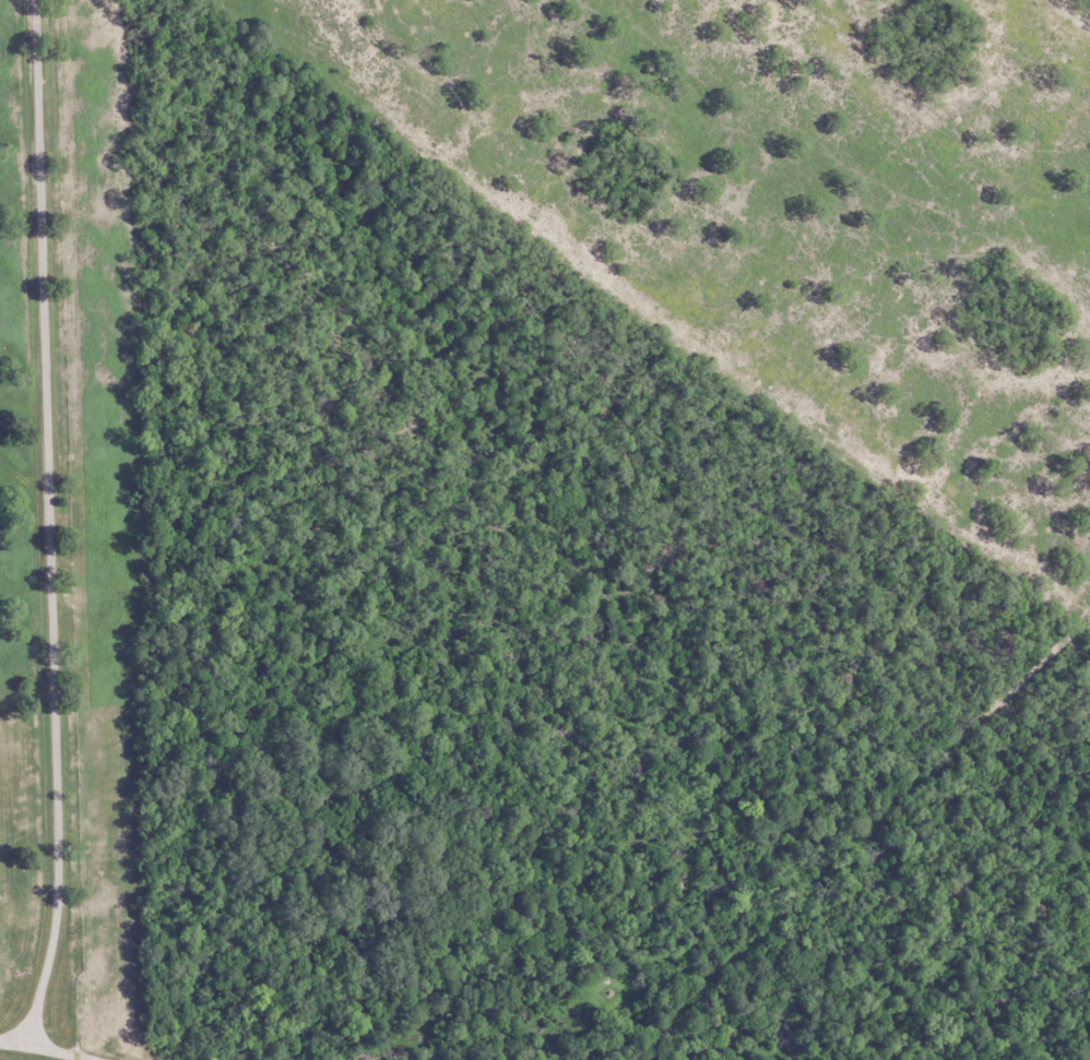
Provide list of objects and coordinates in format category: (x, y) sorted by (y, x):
road: (5, 475)
road: (14, 531)

